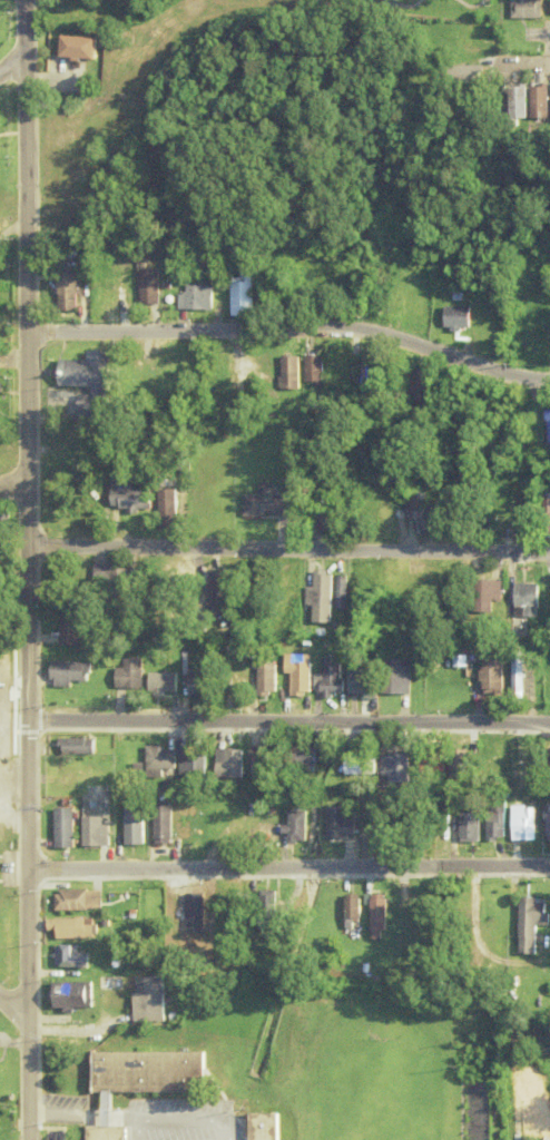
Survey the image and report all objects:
building: (549, 8)
building: (522, 9)
building: (73, 49)
road: (531, 63)
road: (11, 65)
building: (523, 104)
building: (549, 104)
road: (28, 242)
building: (147, 287)
building: (107, 295)
building: (240, 296)
building: (66, 297)
building: (195, 298)
building: (391, 302)
building: (454, 320)
road: (293, 330)
building: (313, 372)
building: (288, 373)
building: (341, 373)
building: (85, 381)
building: (419, 385)
building: (546, 429)
road: (13, 484)
building: (125, 497)
building: (265, 504)
building: (165, 509)
building: (420, 514)
building: (544, 517)
building: (385, 520)
building: (322, 523)
road: (289, 549)
building: (109, 578)
building: (215, 591)
building: (483, 596)
building: (325, 597)
building: (522, 601)
building: (69, 627)
building: (458, 661)
building: (67, 674)
building: (491, 674)
building: (297, 675)
building: (128, 676)
building: (522, 676)
building: (396, 677)
building: (328, 678)
building: (361, 678)
building: (265, 680)
building: (195, 682)
building: (160, 685)
road: (289, 723)
building: (73, 747)
building: (259, 756)
building: (299, 756)
building: (549, 759)
building: (158, 764)
building: (458, 764)
building: (191, 765)
building: (227, 765)
building: (352, 765)
building: (428, 765)
building: (392, 768)
road: (29, 812)
building: (546, 823)
building: (519, 824)
building: (161, 825)
building: (337, 825)
building: (492, 826)
building: (295, 827)
building: (466, 827)
building: (63, 828)
building: (227, 828)
building: (92, 832)
road: (289, 867)
building: (75, 901)
building: (350, 907)
building: (374, 913)
building: (193, 914)
building: (527, 923)
building: (248, 924)
building: (73, 928)
building: (73, 957)
building: (73, 995)
building: (148, 999)
road: (13, 1008)
building: (148, 1069)
building: (537, 1110)
road: (67, 1117)
parking lot: (180, 1117)
road: (180, 1117)
road: (108, 1118)
road: (122, 1118)
building: (263, 1127)
building: (107, 1131)

